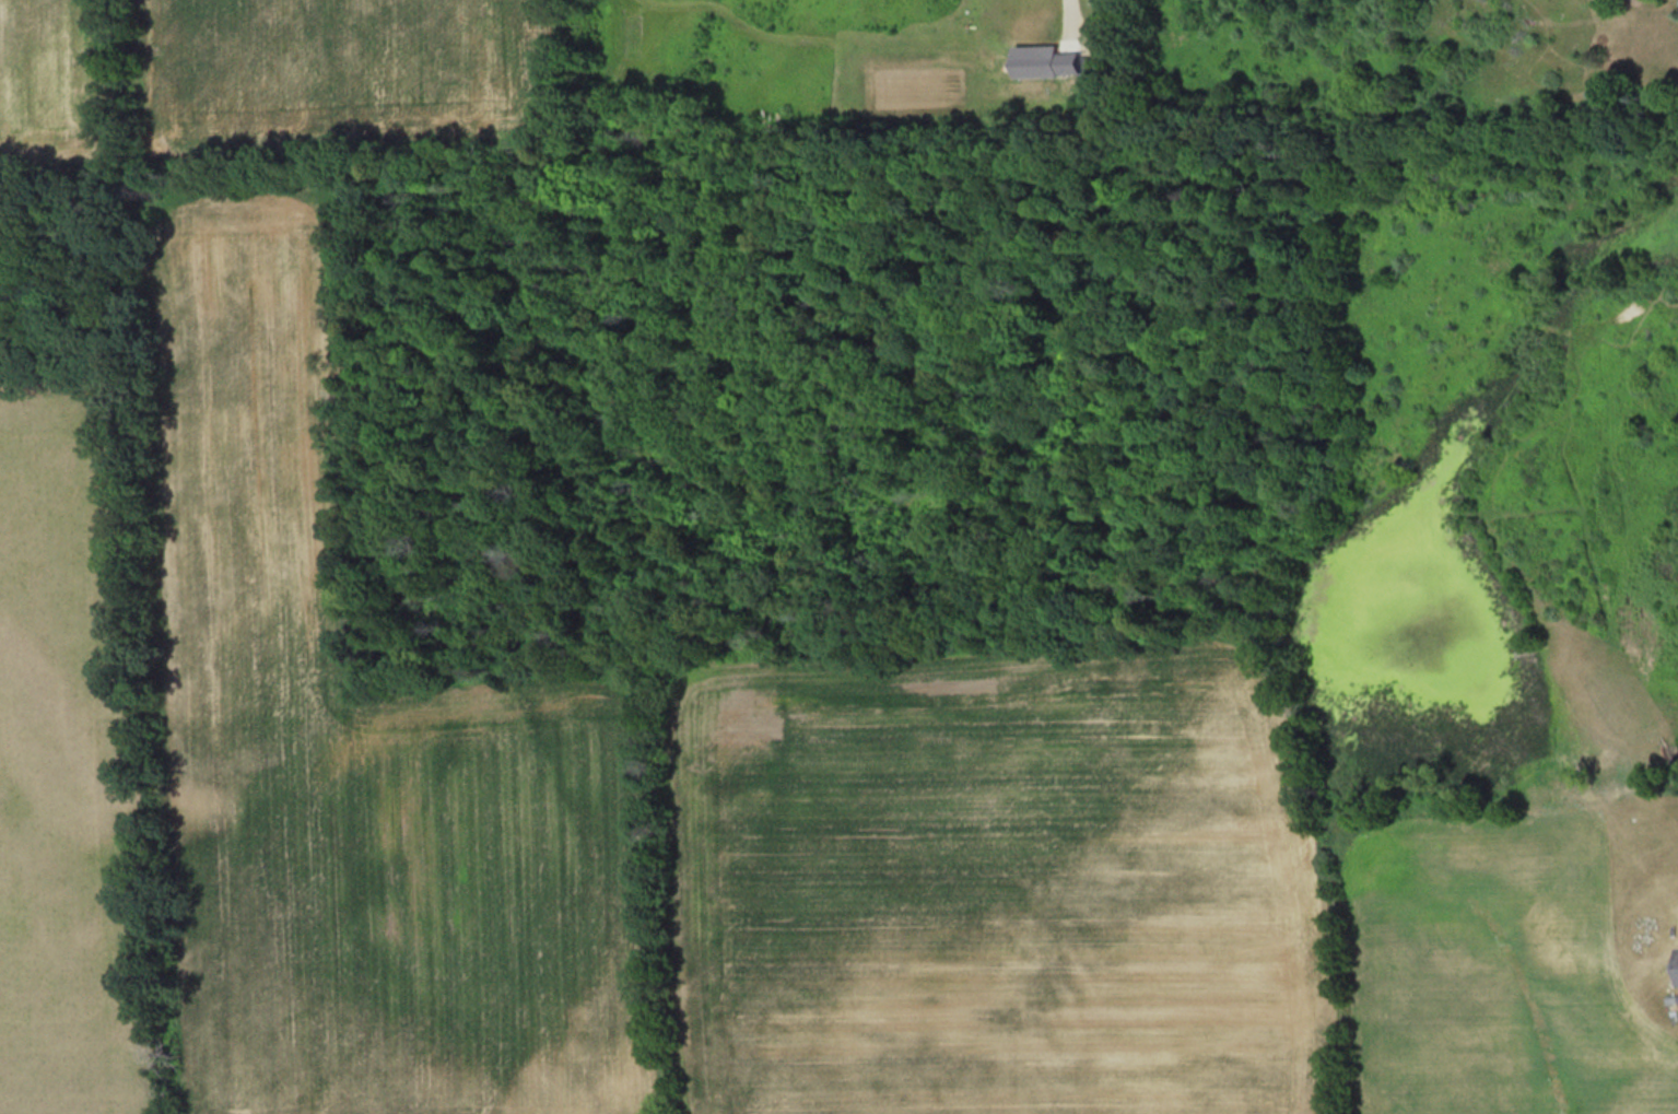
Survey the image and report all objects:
road: (1069, 15)
road: (1306, 382)

